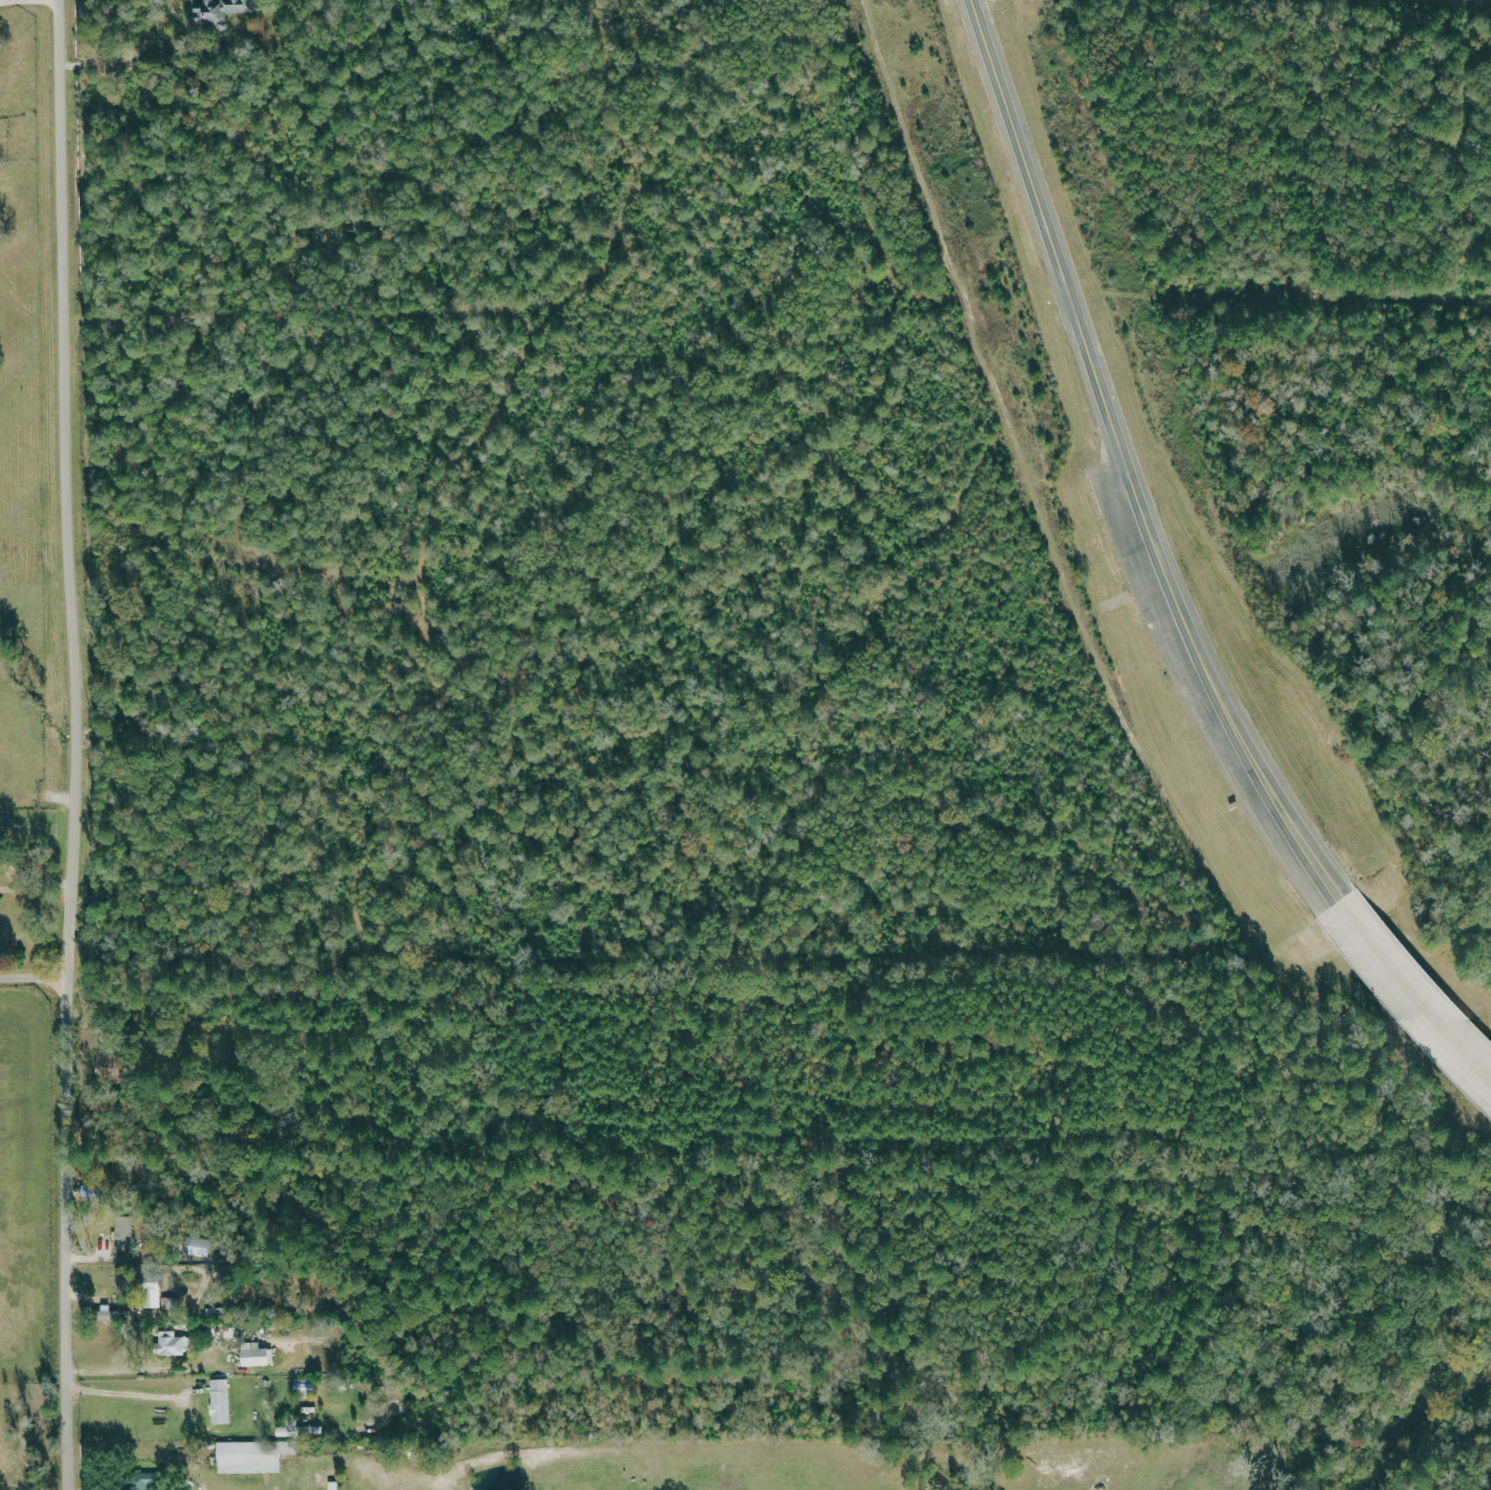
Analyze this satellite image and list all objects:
road: (27, 7)
building: (221, 12)
road: (130, 57)
road: (1121, 470)
road: (66, 744)
road: (35, 981)
road: (1414, 996)
building: (125, 1233)
building: (199, 1247)
building: (153, 1294)
building: (111, 1314)
building: (173, 1345)
building: (256, 1354)
road: (125, 1372)
road: (127, 1393)
building: (220, 1401)
river: (1419, 1420)
building: (300, 1431)
building: (253, 1456)
building: (144, 1481)
building: (335, 1485)

